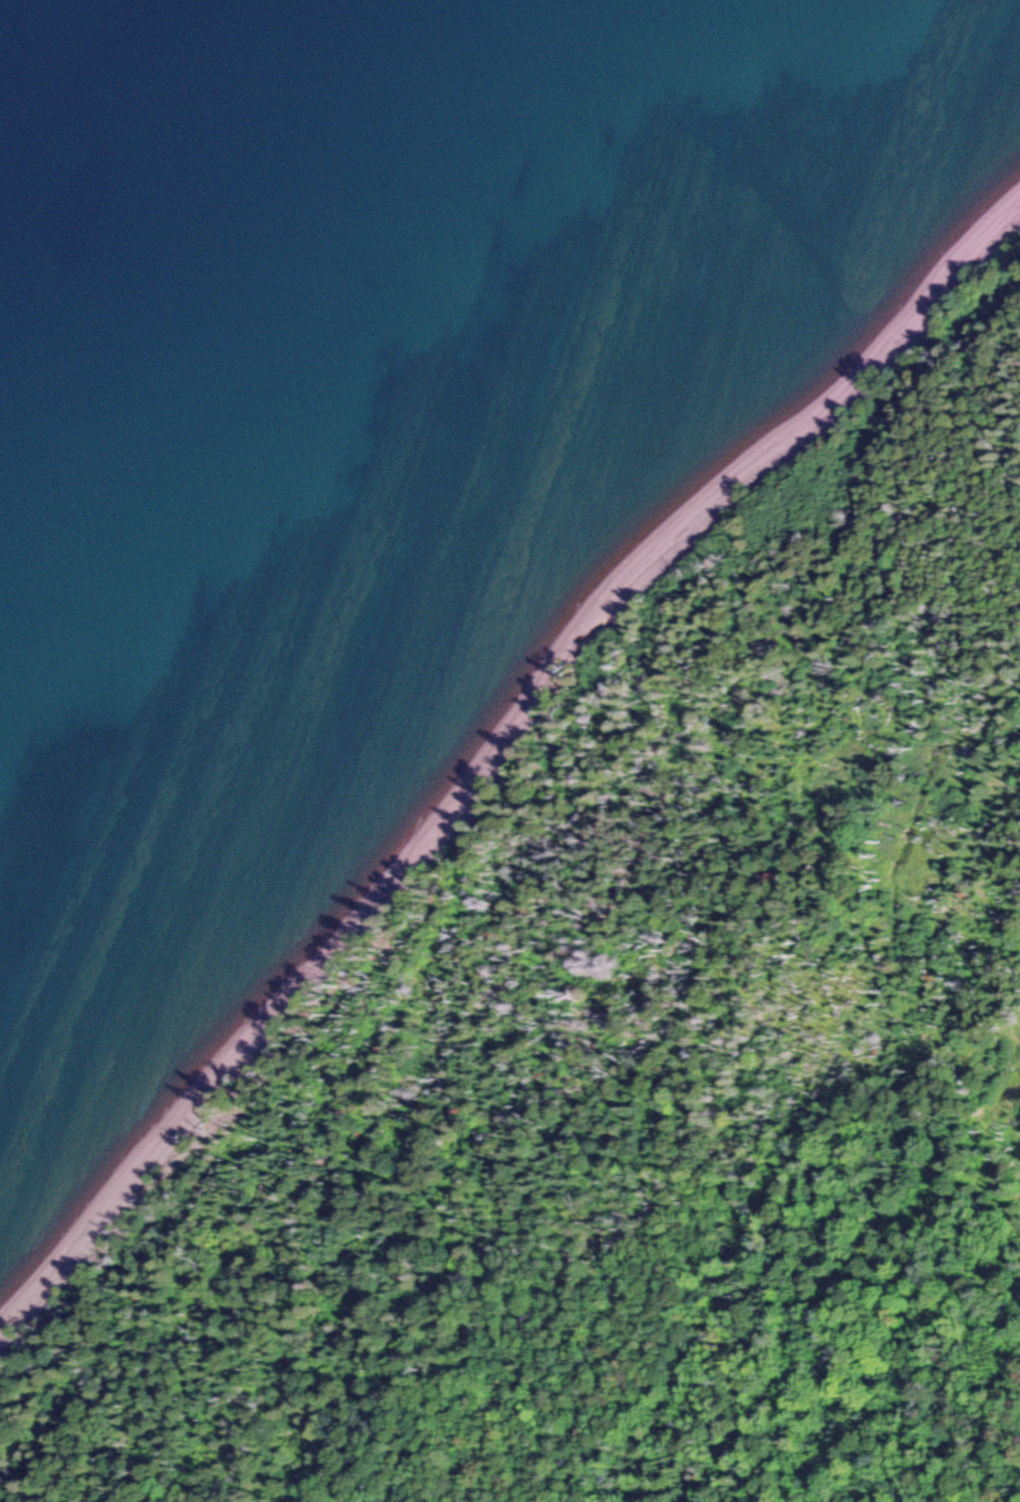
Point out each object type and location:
park: (16, 1380)

